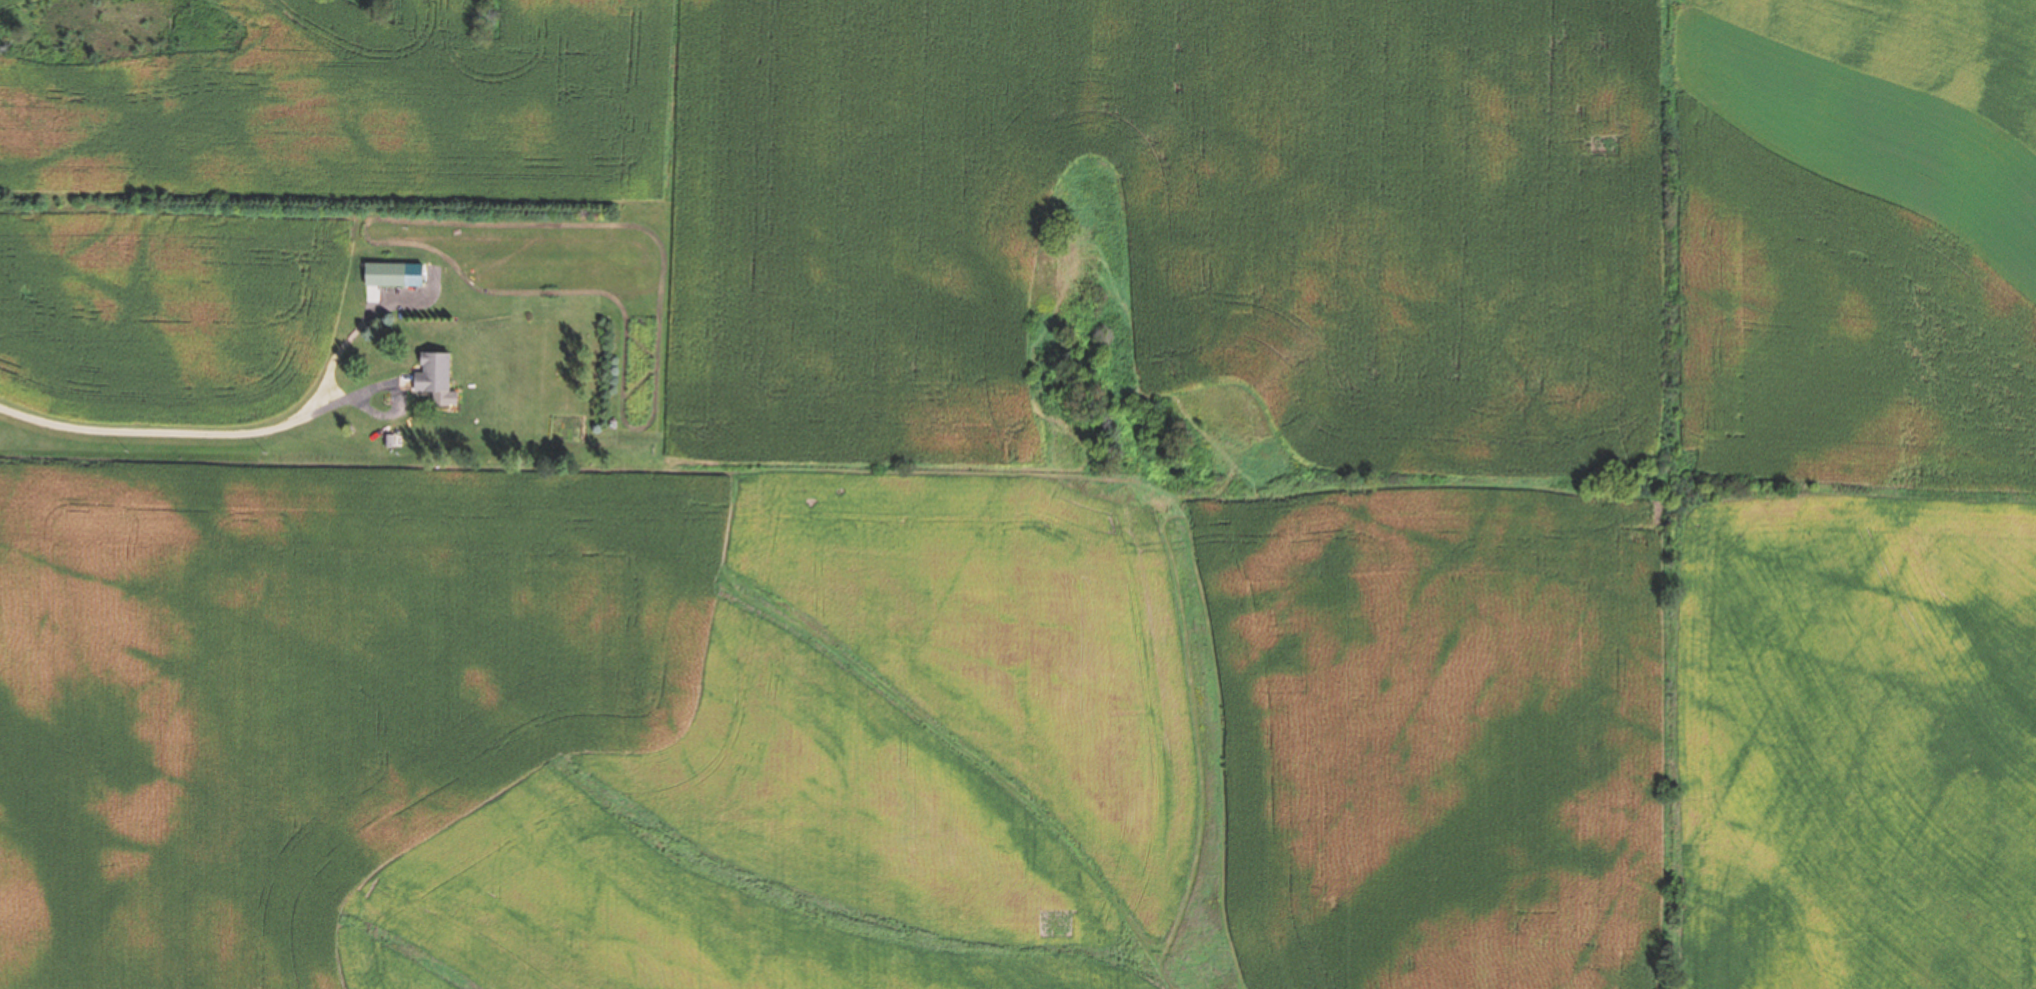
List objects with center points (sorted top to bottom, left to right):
building: (385, 270)
road: (346, 341)
building: (434, 371)
road: (387, 382)
road: (335, 398)
road: (152, 428)

